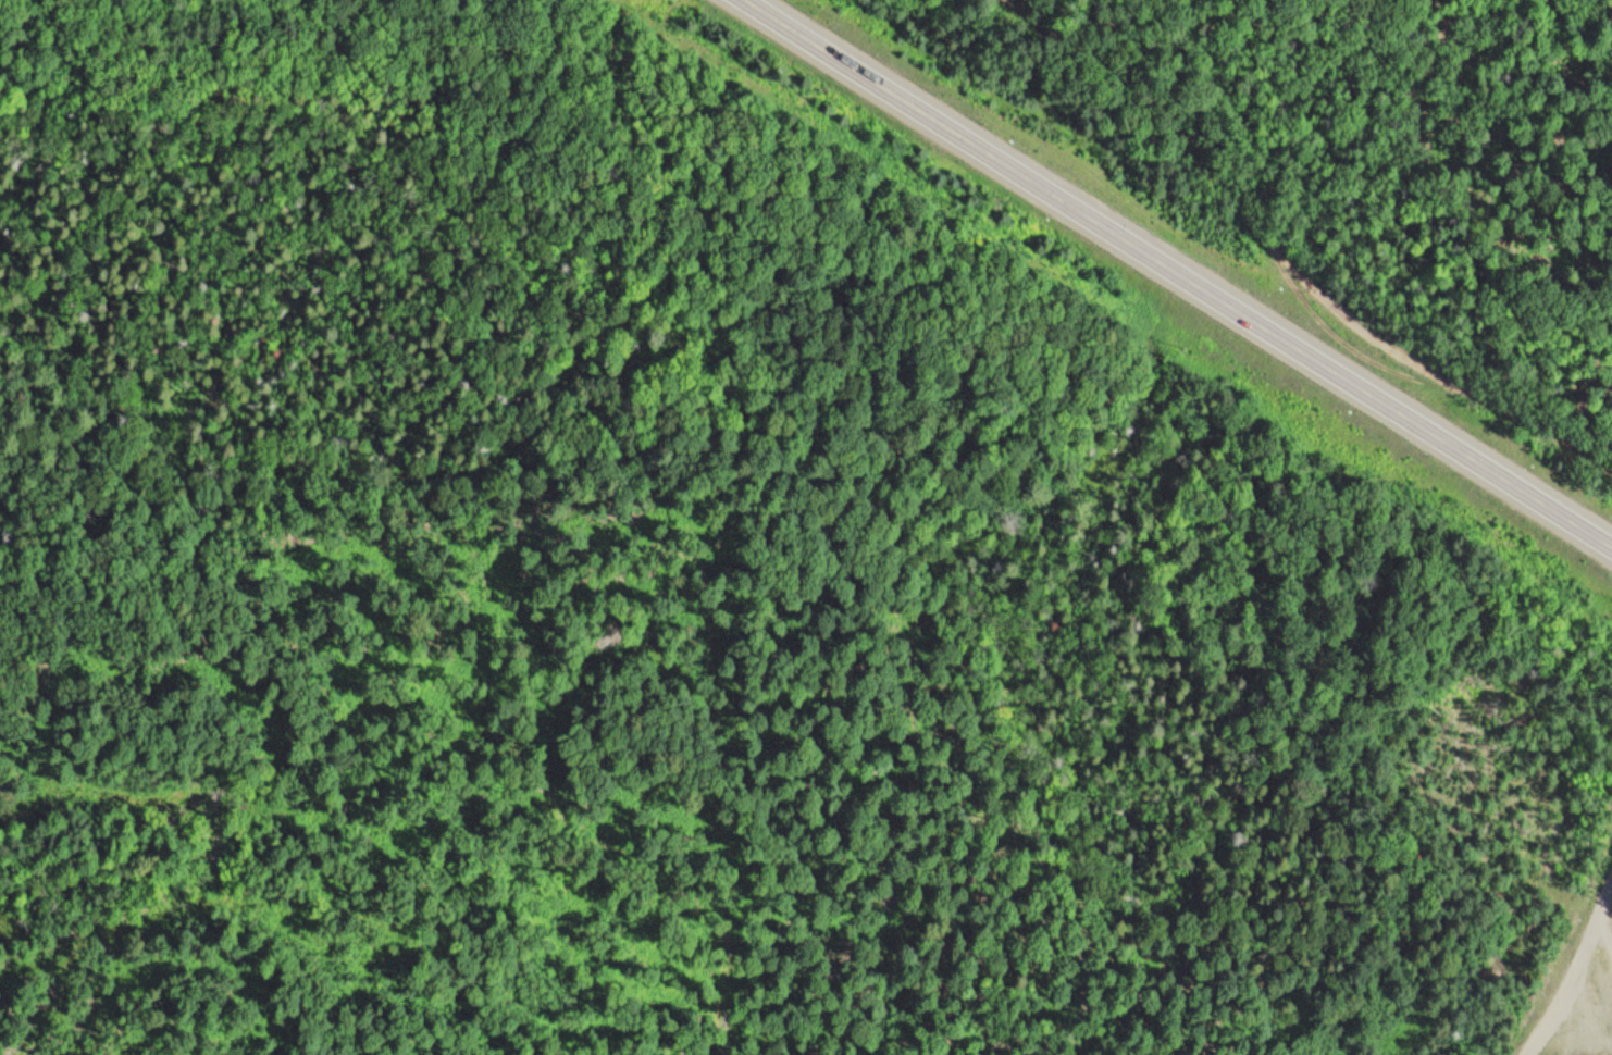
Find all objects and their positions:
road: (1180, 271)
road: (1570, 997)

